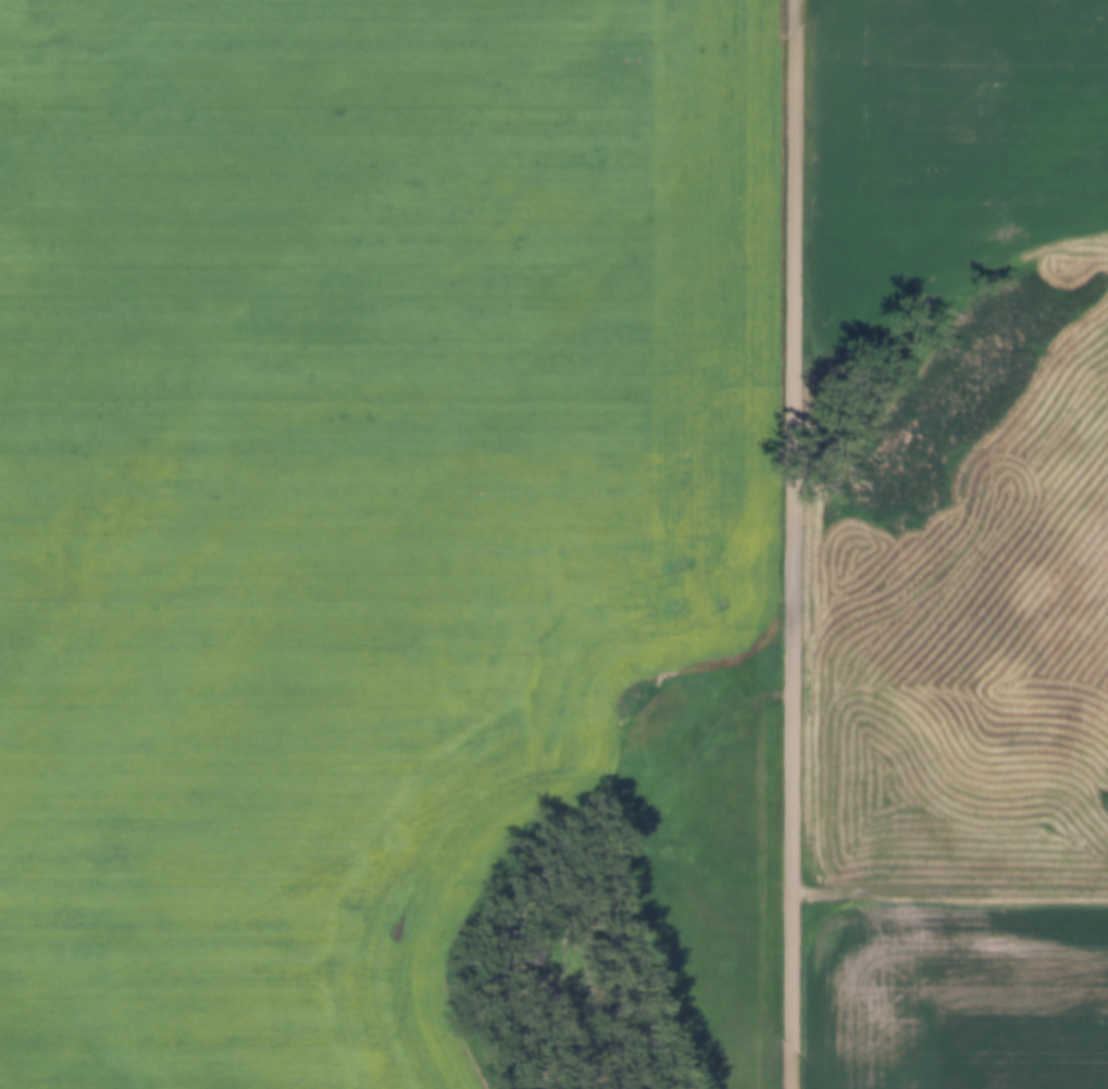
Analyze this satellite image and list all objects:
road: (790, 544)
road: (948, 893)

